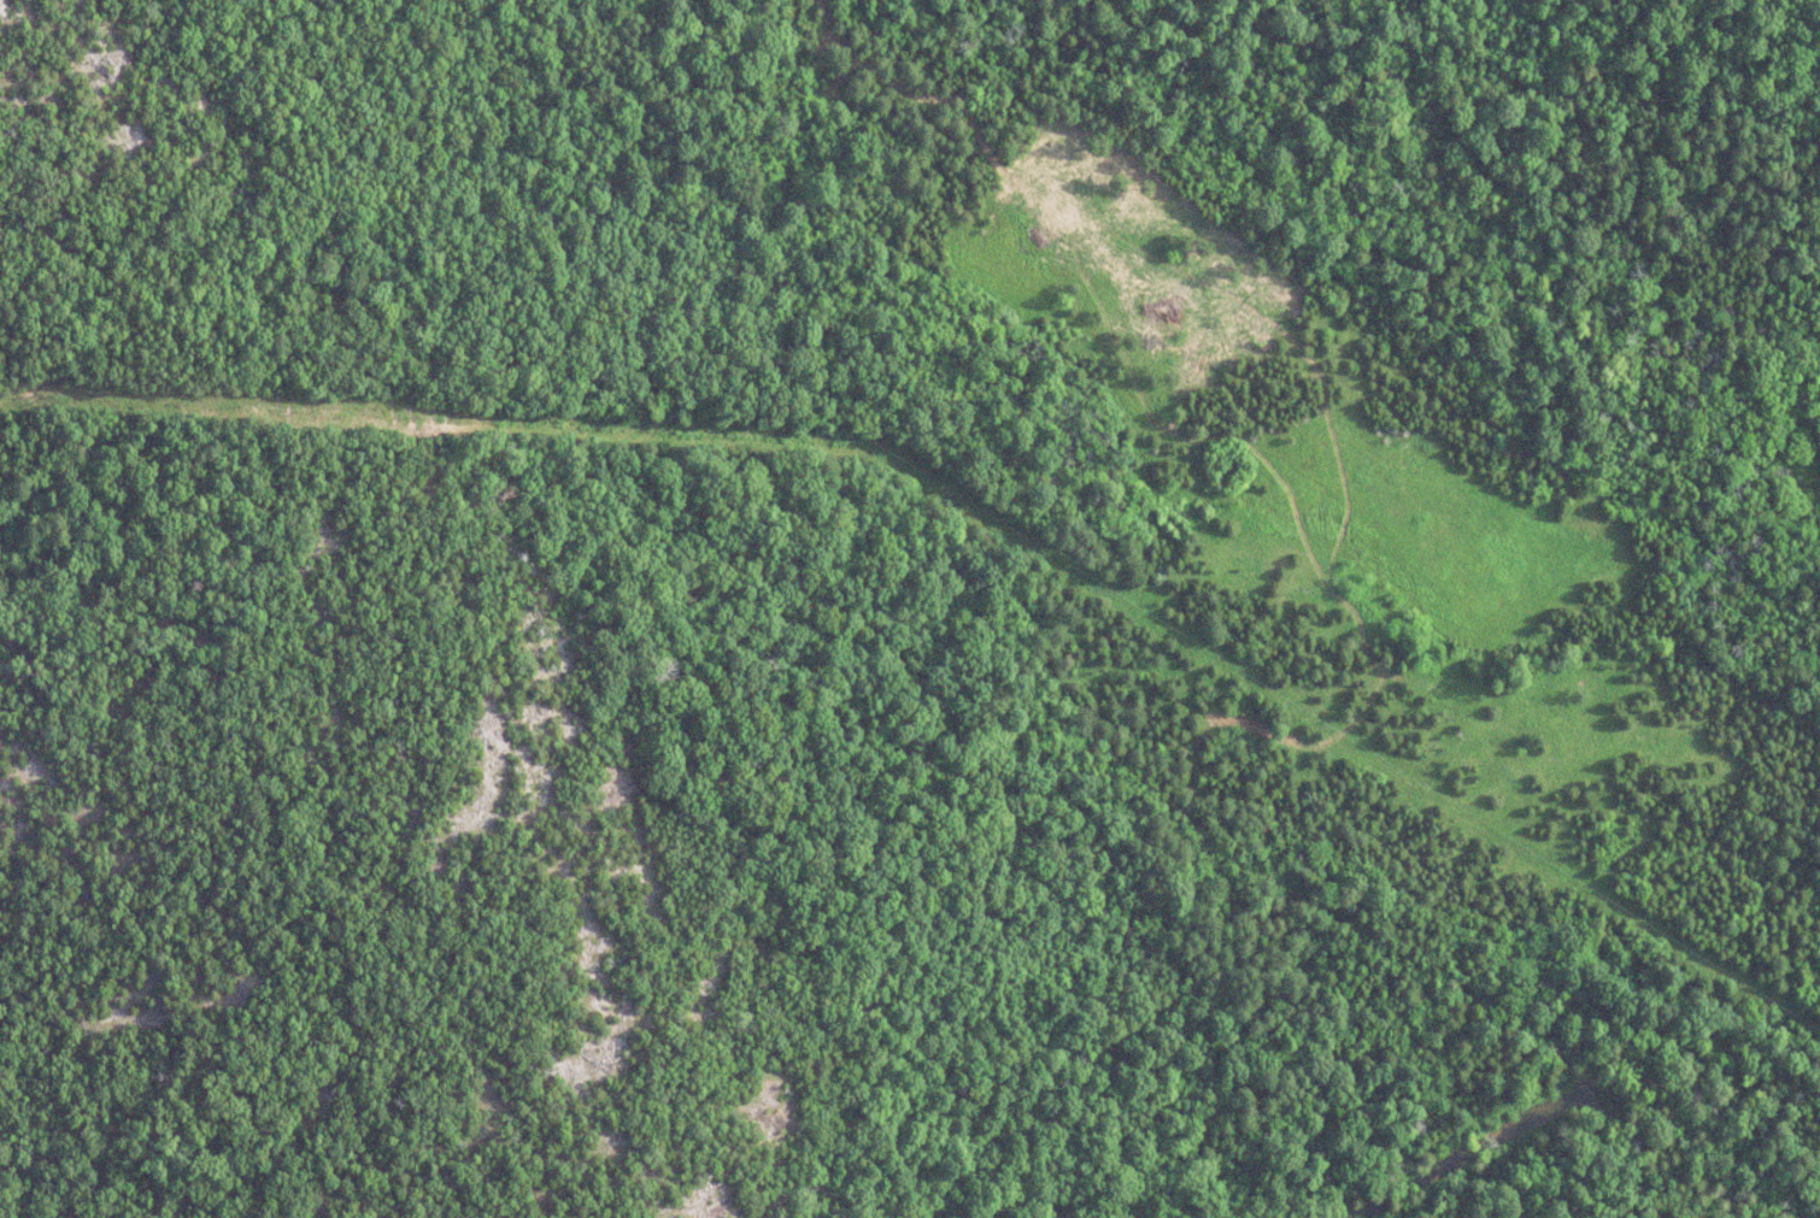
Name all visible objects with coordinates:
road: (1613, 1217)

